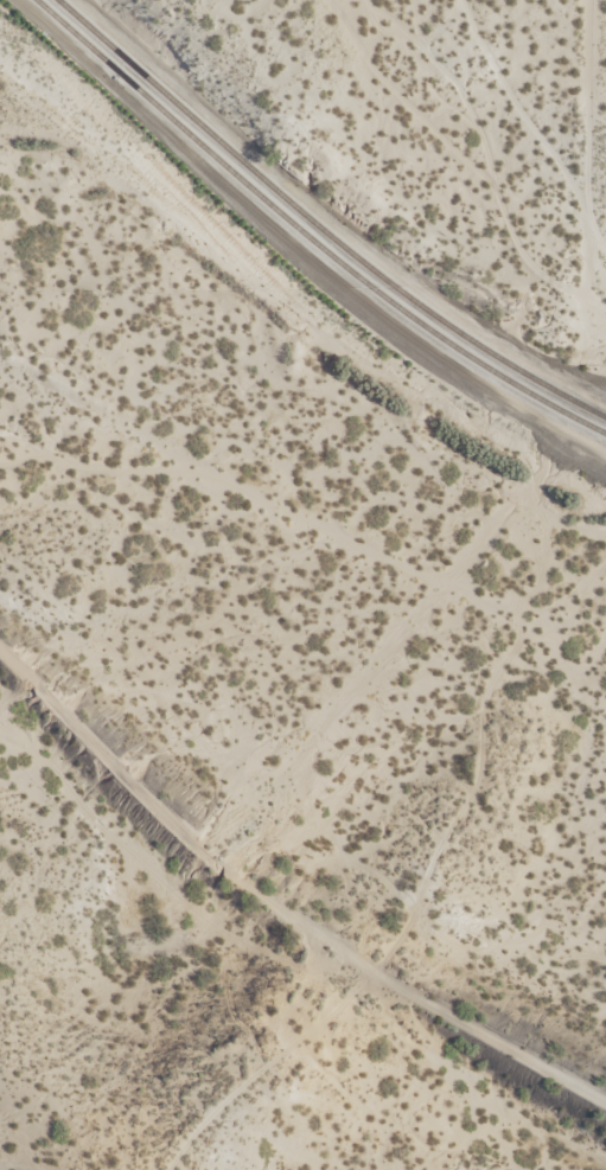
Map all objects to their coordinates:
railway: (321, 225)
railway: (308, 235)

